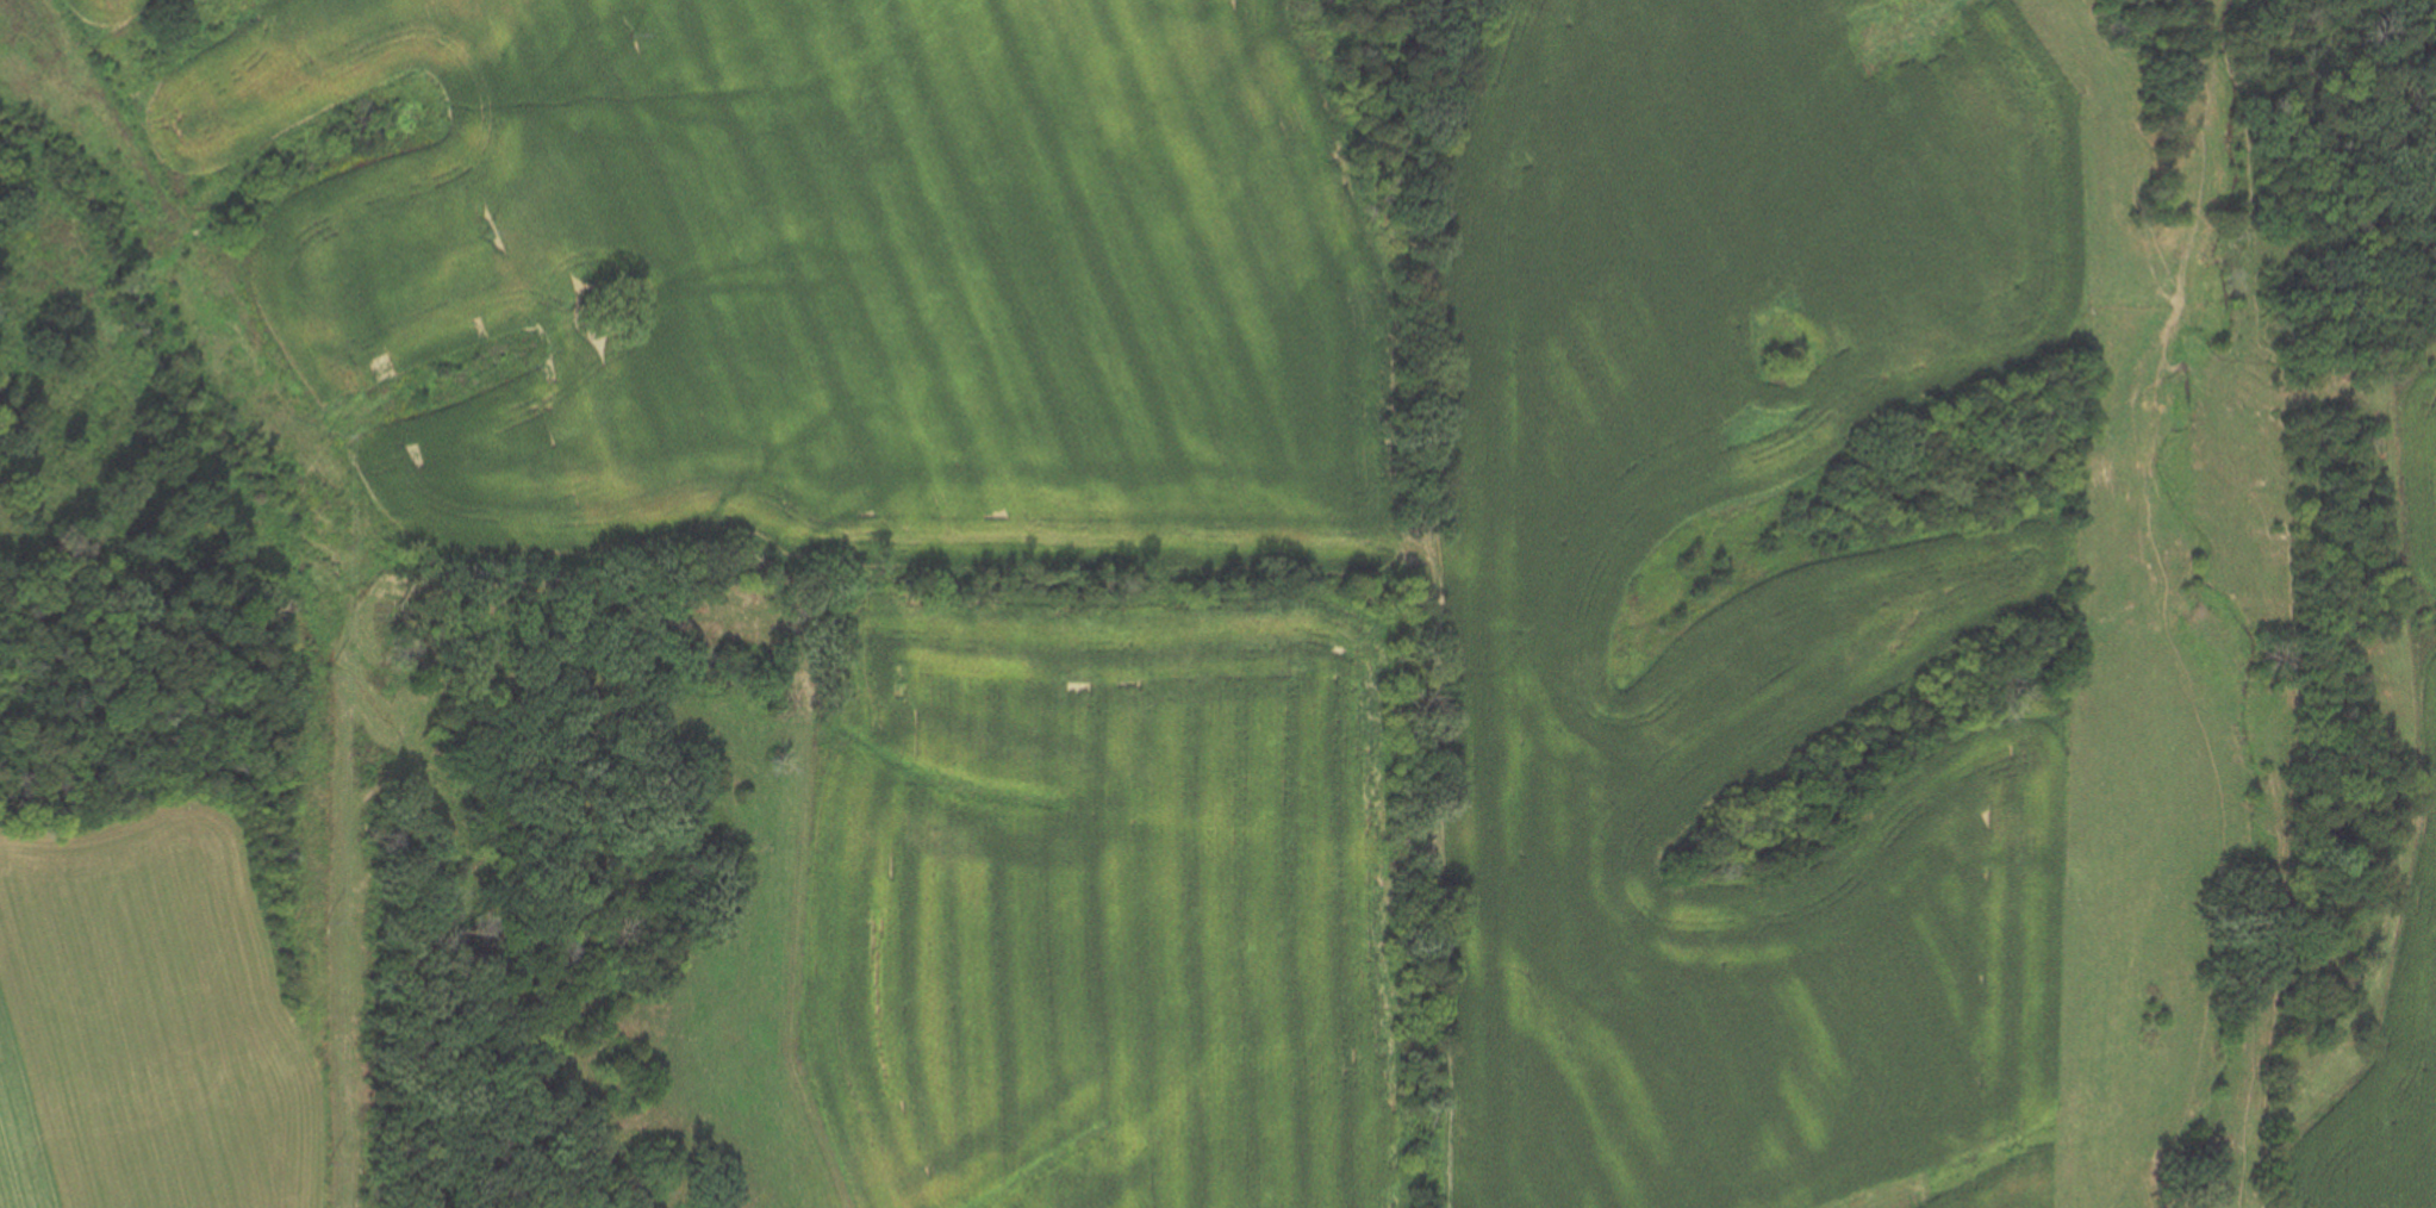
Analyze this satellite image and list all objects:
road: (1454, 1051)

